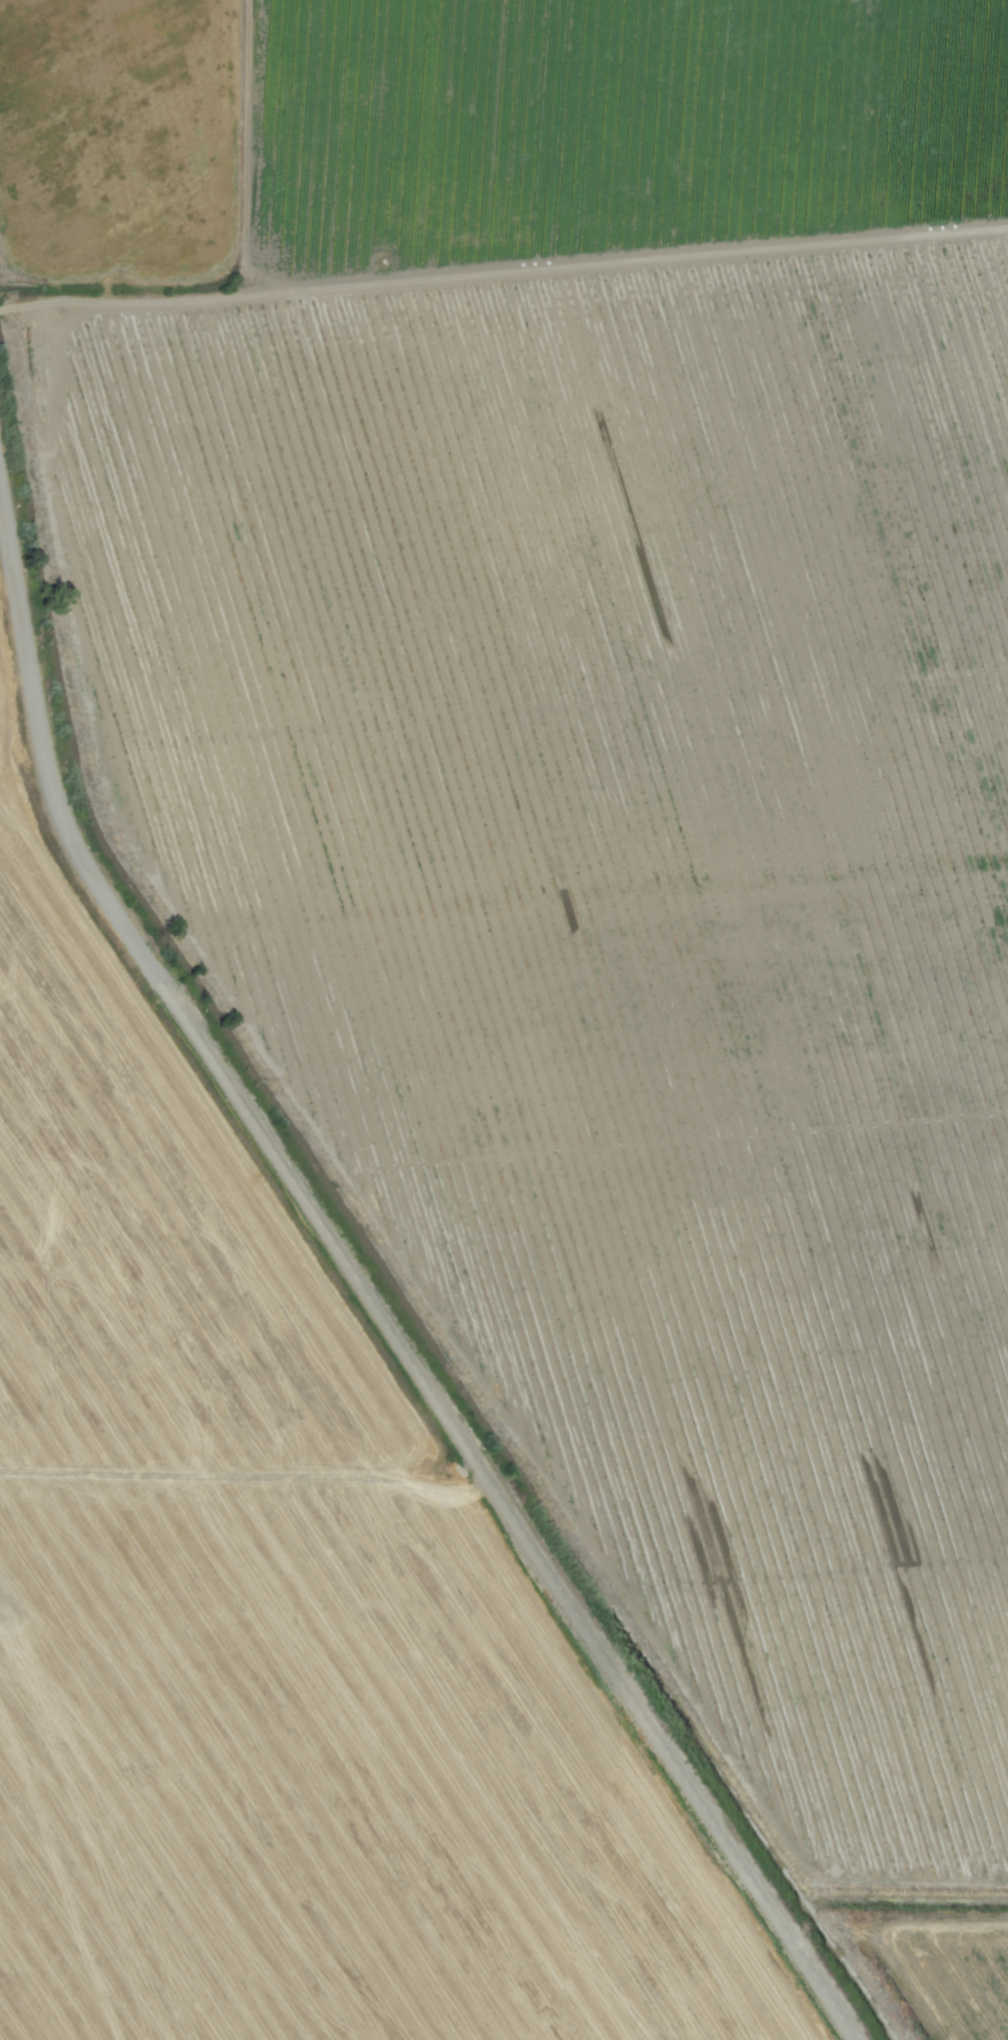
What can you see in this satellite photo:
road: (139, 306)
crop: (504, 1020)
road: (365, 1291)

